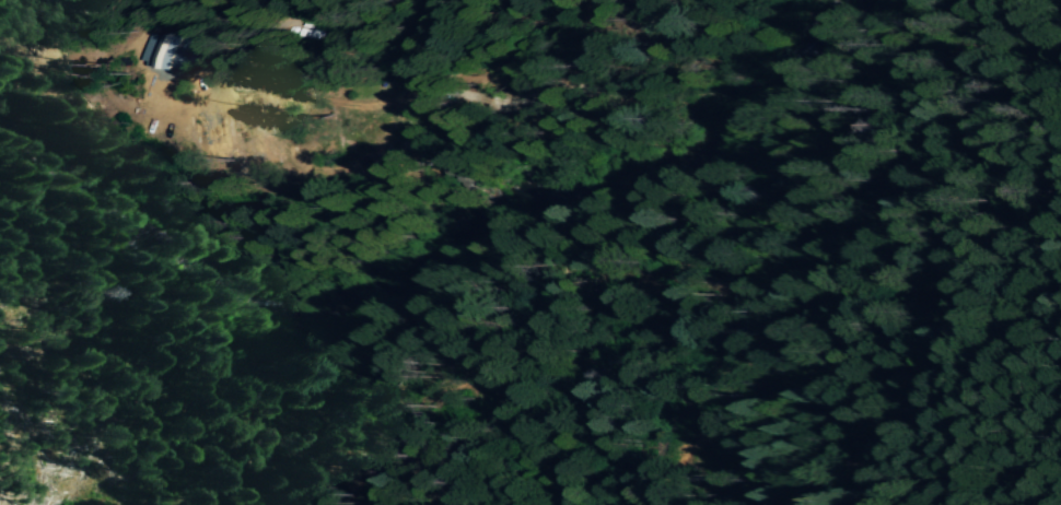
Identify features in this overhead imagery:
road: (168, 15)

